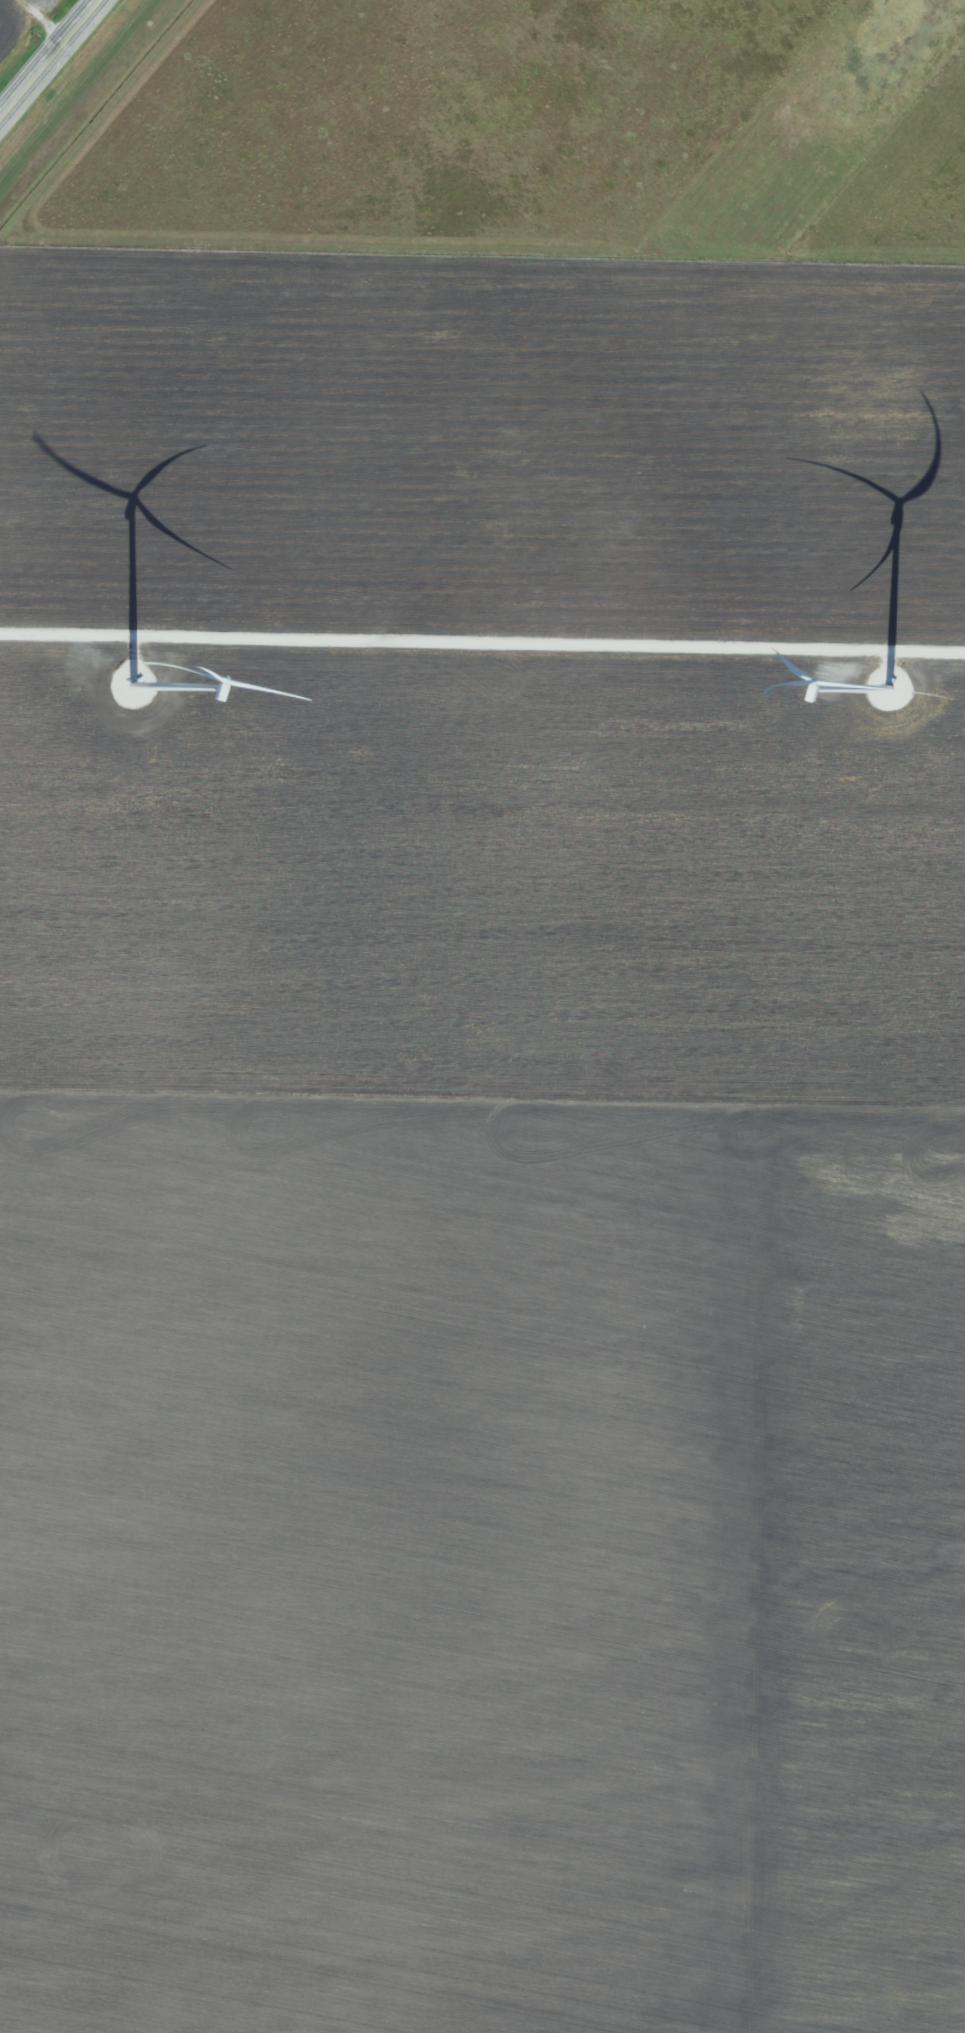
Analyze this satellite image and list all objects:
road: (54, 64)
railway: (88, 105)
road: (482, 630)
wind turbine: (137, 691)
wind turbine: (892, 691)

